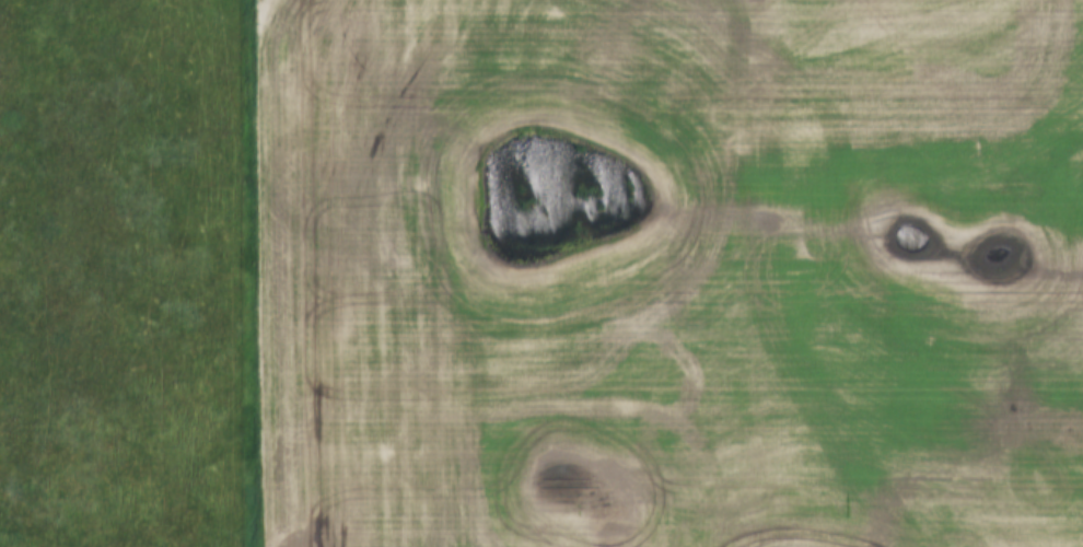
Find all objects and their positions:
road: (260, 273)

